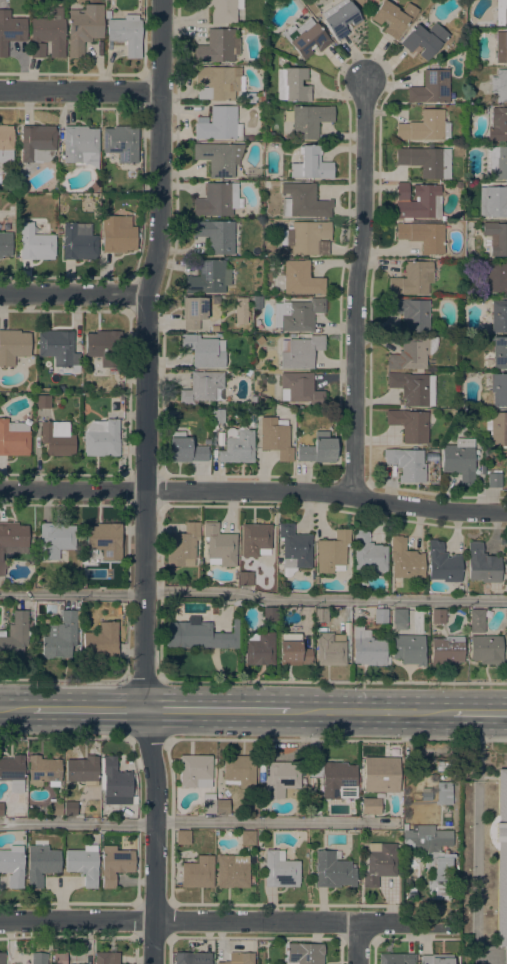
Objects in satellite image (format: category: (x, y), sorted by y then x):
building: (221, 9)
building: (501, 12)
building: (393, 17)
building: (340, 18)
building: (84, 28)
building: (10, 30)
building: (47, 34)
building: (126, 34)
building: (305, 38)
building: (424, 40)
building: (217, 46)
building: (500, 48)
building: (218, 82)
building: (292, 85)
building: (500, 86)
building: (430, 88)
road: (81, 92)
building: (245, 98)
building: (309, 121)
building: (218, 124)
building: (497, 125)
building: (424, 127)
building: (250, 138)
building: (37, 143)
building: (121, 143)
building: (80, 145)
building: (6, 146)
building: (218, 158)
building: (426, 161)
building: (496, 163)
building: (311, 164)
building: (266, 184)
building: (217, 200)
building: (303, 201)
building: (418, 201)
building: (493, 201)
building: (59, 232)
building: (117, 234)
building: (216, 236)
building: (423, 236)
building: (307, 237)
building: (496, 238)
building: (36, 242)
building: (79, 242)
building: (5, 244)
building: (496, 277)
building: (208, 278)
building: (301, 279)
building: (412, 280)
road: (358, 288)
road: (73, 292)
building: (240, 310)
building: (193, 312)
building: (411, 314)
building: (300, 315)
building: (498, 317)
building: (216, 329)
building: (13, 346)
building: (104, 347)
building: (57, 348)
building: (204, 351)
building: (300, 352)
road: (147, 353)
building: (413, 353)
building: (499, 353)
building: (202, 388)
building: (413, 388)
building: (299, 389)
building: (499, 389)
building: (43, 402)
building: (215, 419)
building: (410, 425)
building: (497, 428)
building: (275, 438)
building: (13, 439)
building: (57, 439)
building: (101, 439)
building: (219, 439)
building: (237, 446)
building: (184, 449)
building: (318, 449)
building: (431, 457)
building: (459, 460)
building: (406, 464)
building: (506, 469)
building: (494, 480)
road: (254, 491)
building: (11, 538)
building: (31, 538)
building: (55, 540)
building: (105, 540)
building: (255, 540)
building: (182, 546)
building: (219, 546)
building: (294, 549)
building: (506, 550)
building: (332, 552)
building: (368, 554)
building: (405, 560)
building: (442, 564)
building: (481, 565)
building: (245, 579)
road: (253, 595)
building: (269, 614)
building: (320, 614)
building: (380, 616)
building: (438, 616)
building: (506, 616)
building: (399, 619)
building: (476, 621)
building: (198, 635)
building: (15, 636)
building: (60, 636)
building: (101, 642)
building: (330, 649)
building: (368, 649)
building: (408, 649)
building: (260, 650)
building: (485, 650)
building: (292, 651)
building: (445, 651)
road: (63, 680)
road: (143, 681)
road: (333, 681)
road: (15, 707)
road: (88, 708)
road: (217, 710)
road: (370, 712)
road: (478, 714)
road: (108, 737)
road: (147, 738)
road: (335, 739)
building: (410, 761)
building: (442, 766)
building: (12, 768)
building: (82, 771)
building: (195, 771)
building: (238, 771)
building: (42, 772)
building: (380, 774)
building: (280, 778)
building: (333, 778)
building: (114, 783)
building: (443, 794)
building: (425, 797)
building: (208, 803)
building: (370, 806)
building: (221, 807)
building: (54, 808)
building: (69, 808)
building: (1, 809)
road: (155, 814)
road: (195, 822)
building: (182, 837)
building: (247, 837)
road: (477, 838)
park: (482, 853)
building: (432, 858)
building: (500, 860)
building: (379, 863)
building: (40, 864)
building: (83, 864)
building: (114, 864)
building: (12, 866)
building: (279, 870)
building: (232, 871)
building: (332, 871)
building: (197, 872)
road: (202, 920)
road: (155, 942)
road: (358, 942)
building: (303, 953)
building: (107, 957)
building: (1, 958)
building: (38, 958)
building: (59, 958)
building: (192, 958)
building: (238, 958)
building: (396, 958)
building: (436, 959)

